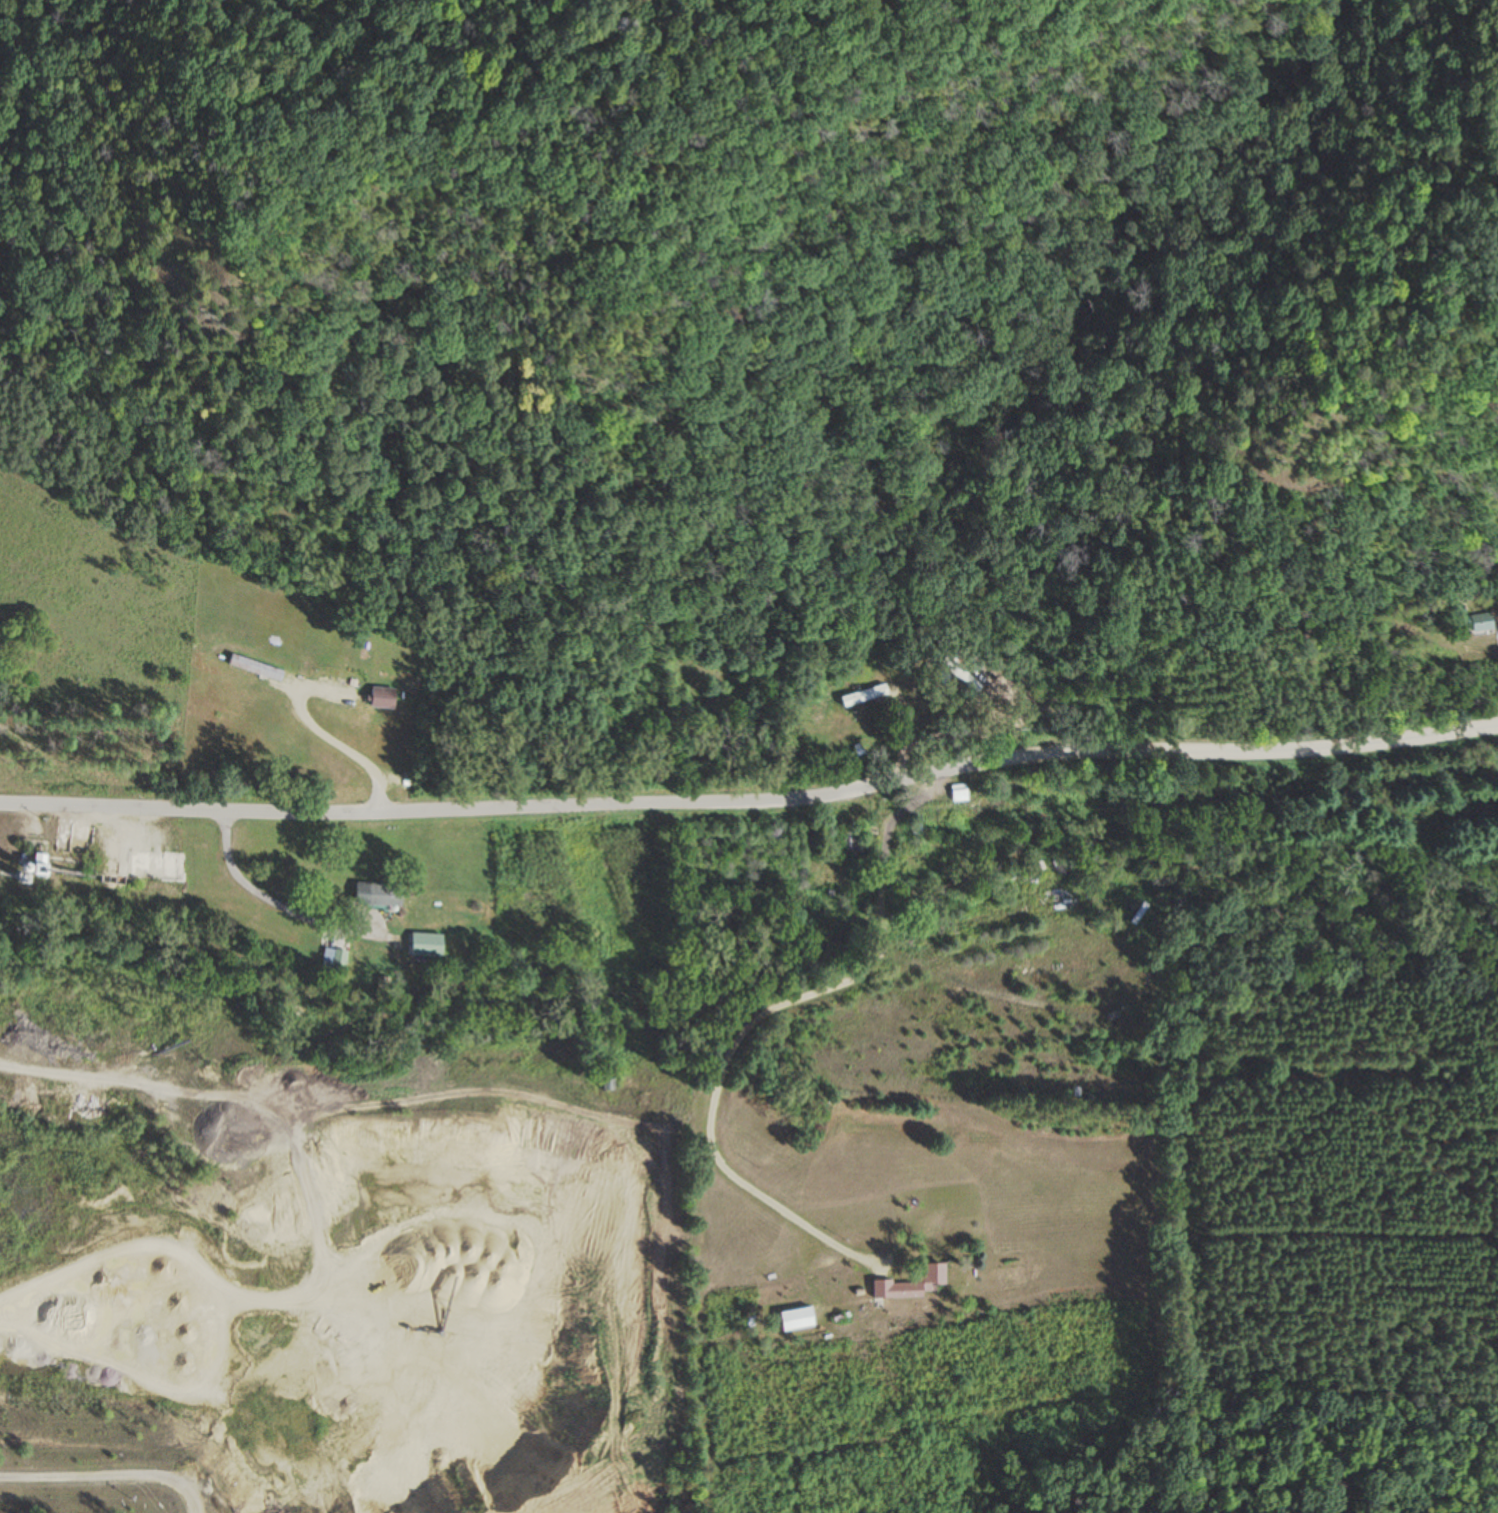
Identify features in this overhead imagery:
building: (1483, 623)
building: (256, 668)
building: (959, 676)
building: (865, 693)
building: (381, 698)
building: (958, 794)
road: (751, 801)
building: (851, 843)
building: (38, 866)
building: (384, 895)
building: (424, 946)
building: (332, 960)
building: (1115, 1009)
building: (606, 1081)
quarry: (301, 1222)
building: (911, 1285)
building: (795, 1319)
road: (95, 1477)

